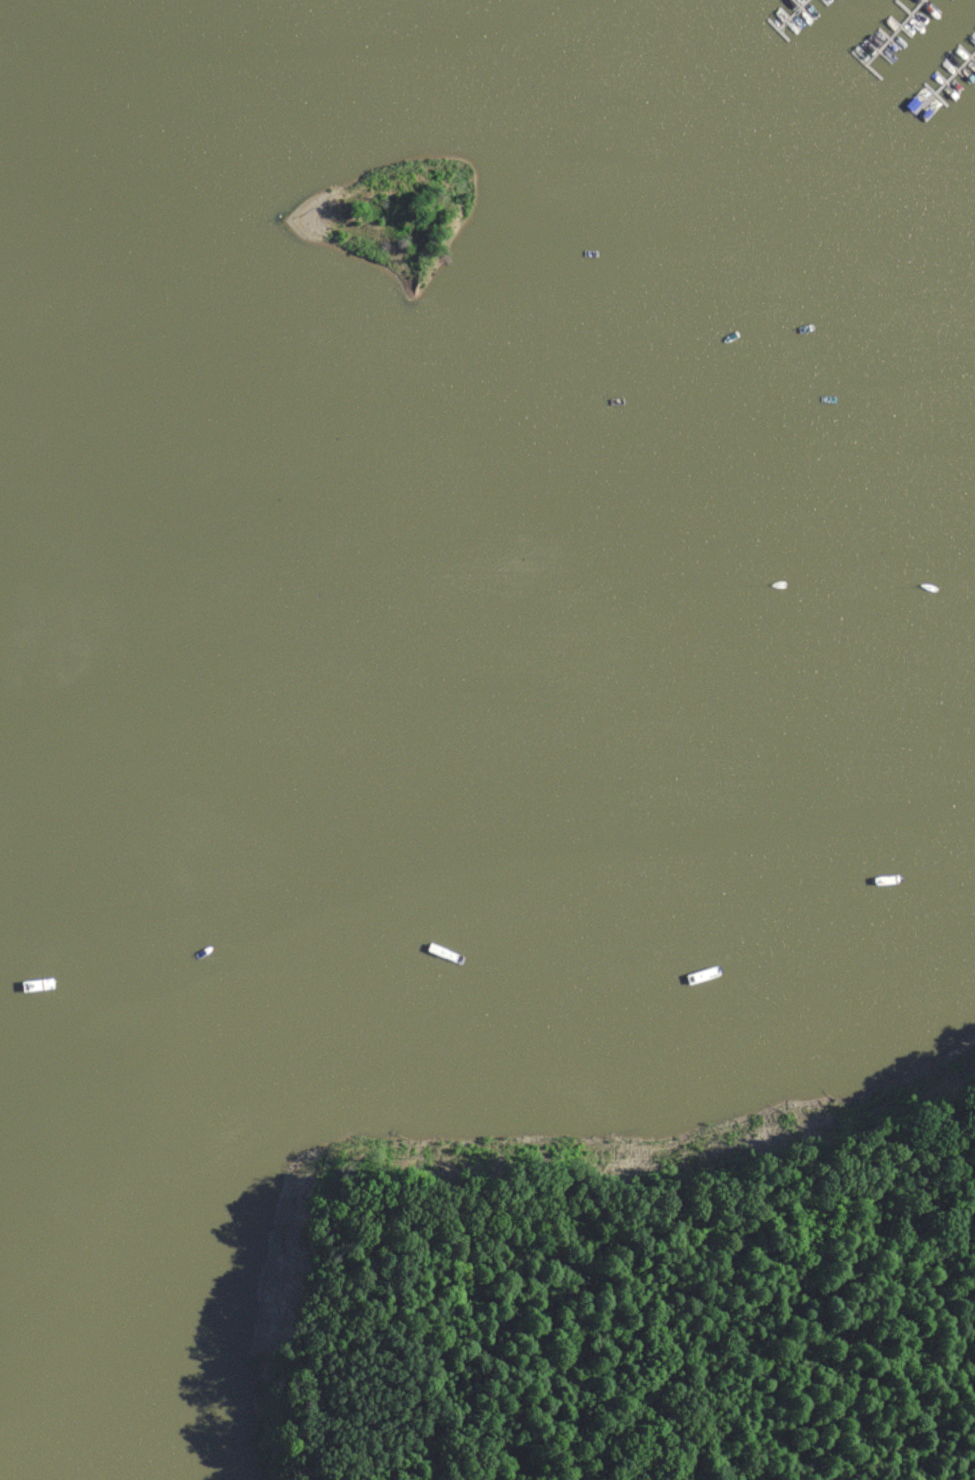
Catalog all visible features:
road: (898, 1416)

